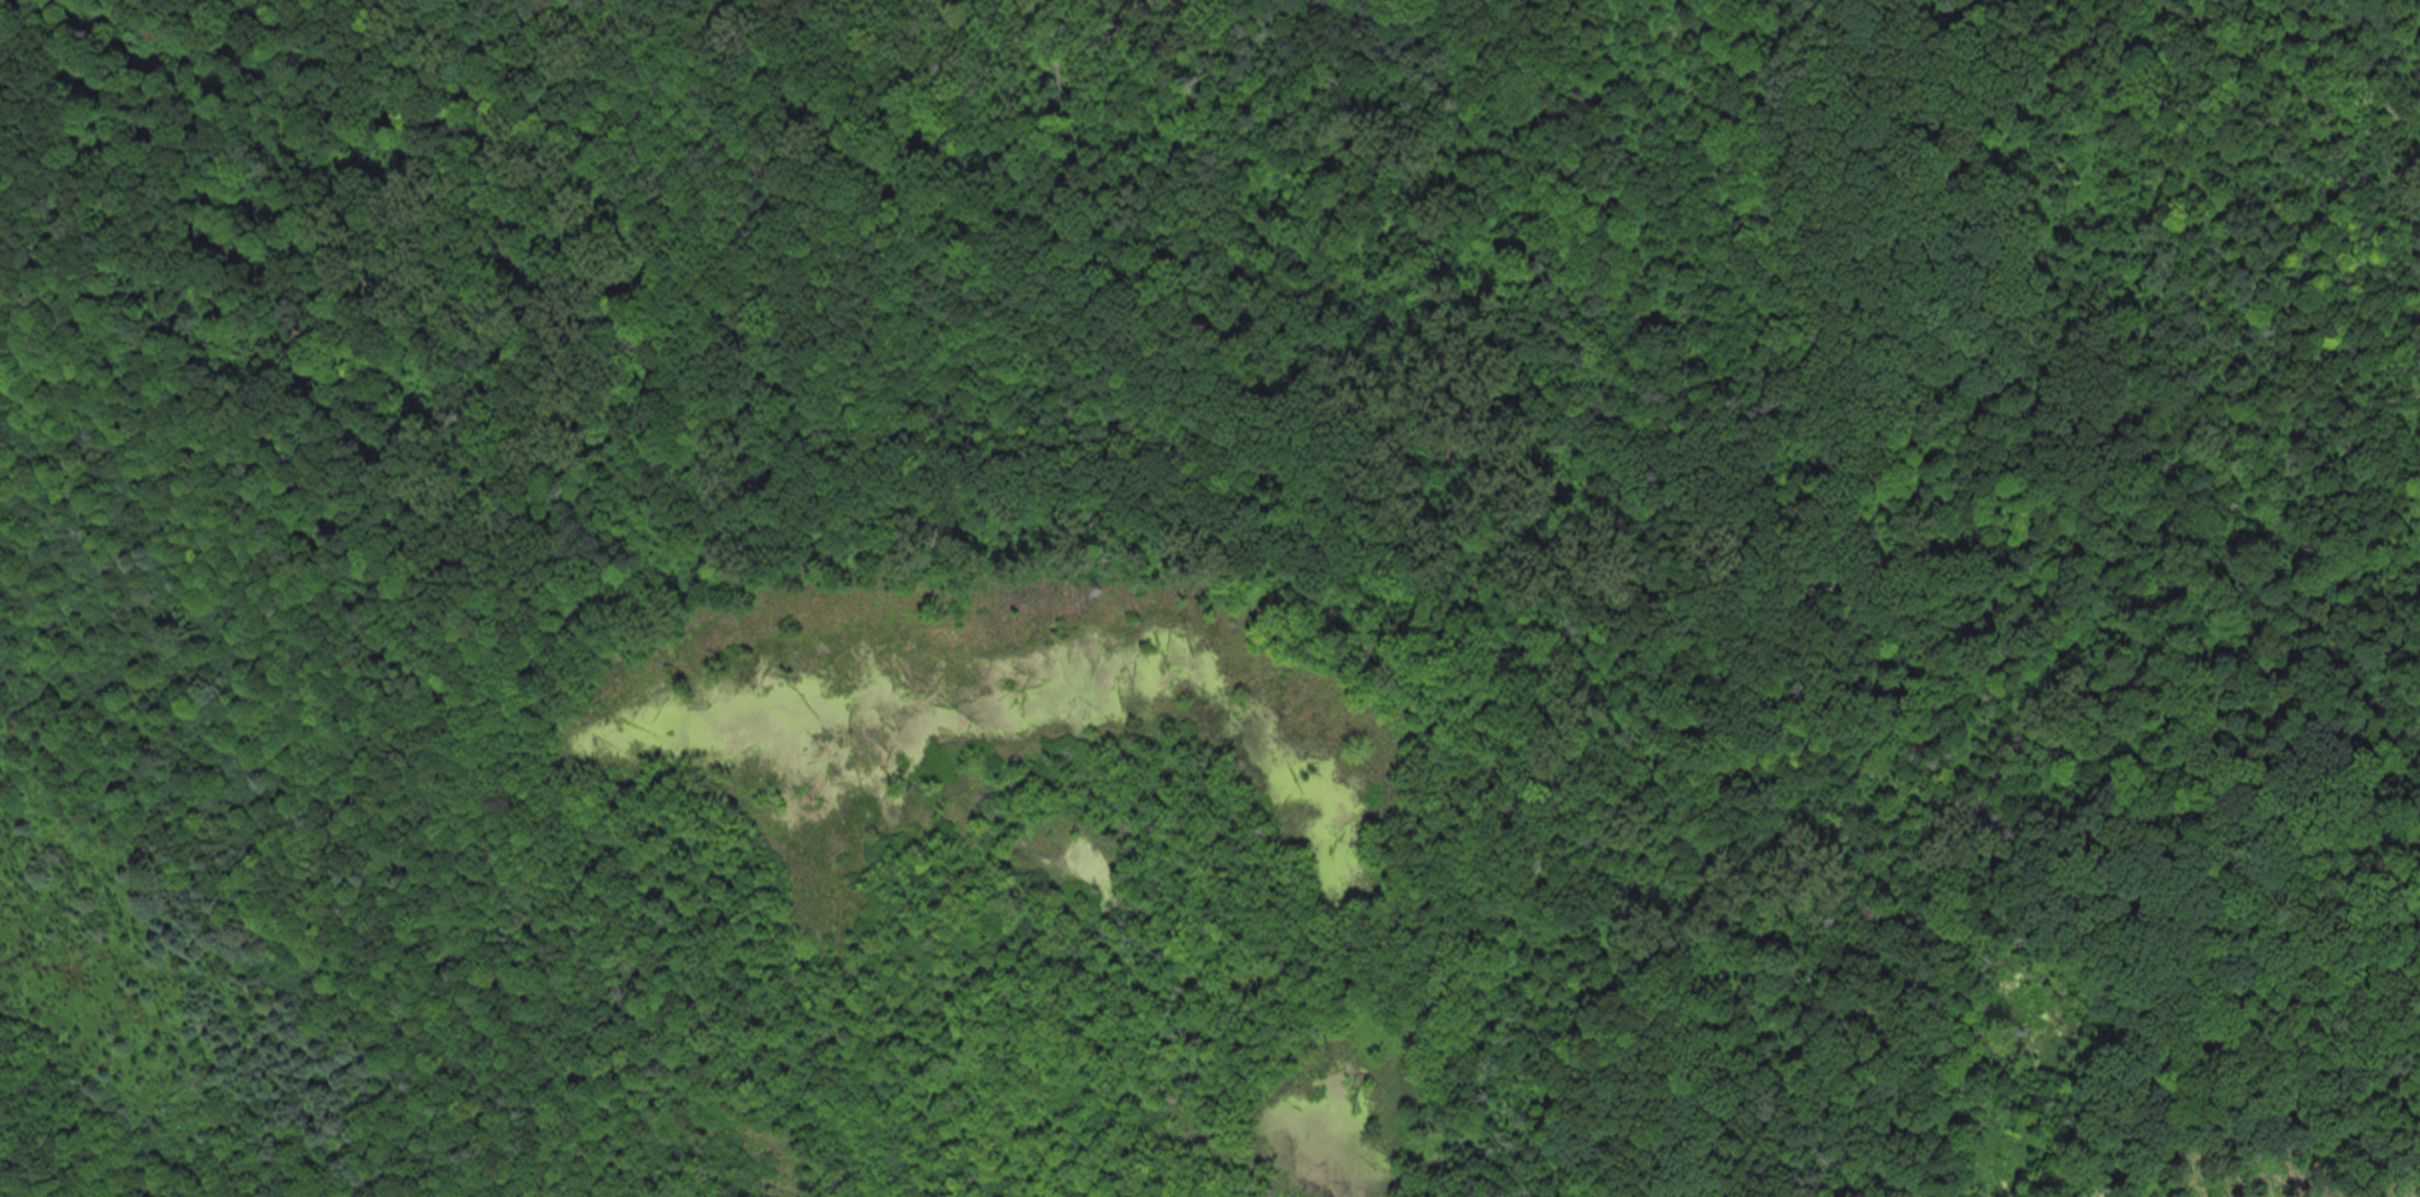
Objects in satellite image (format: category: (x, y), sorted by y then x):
park: (1209, 597)

